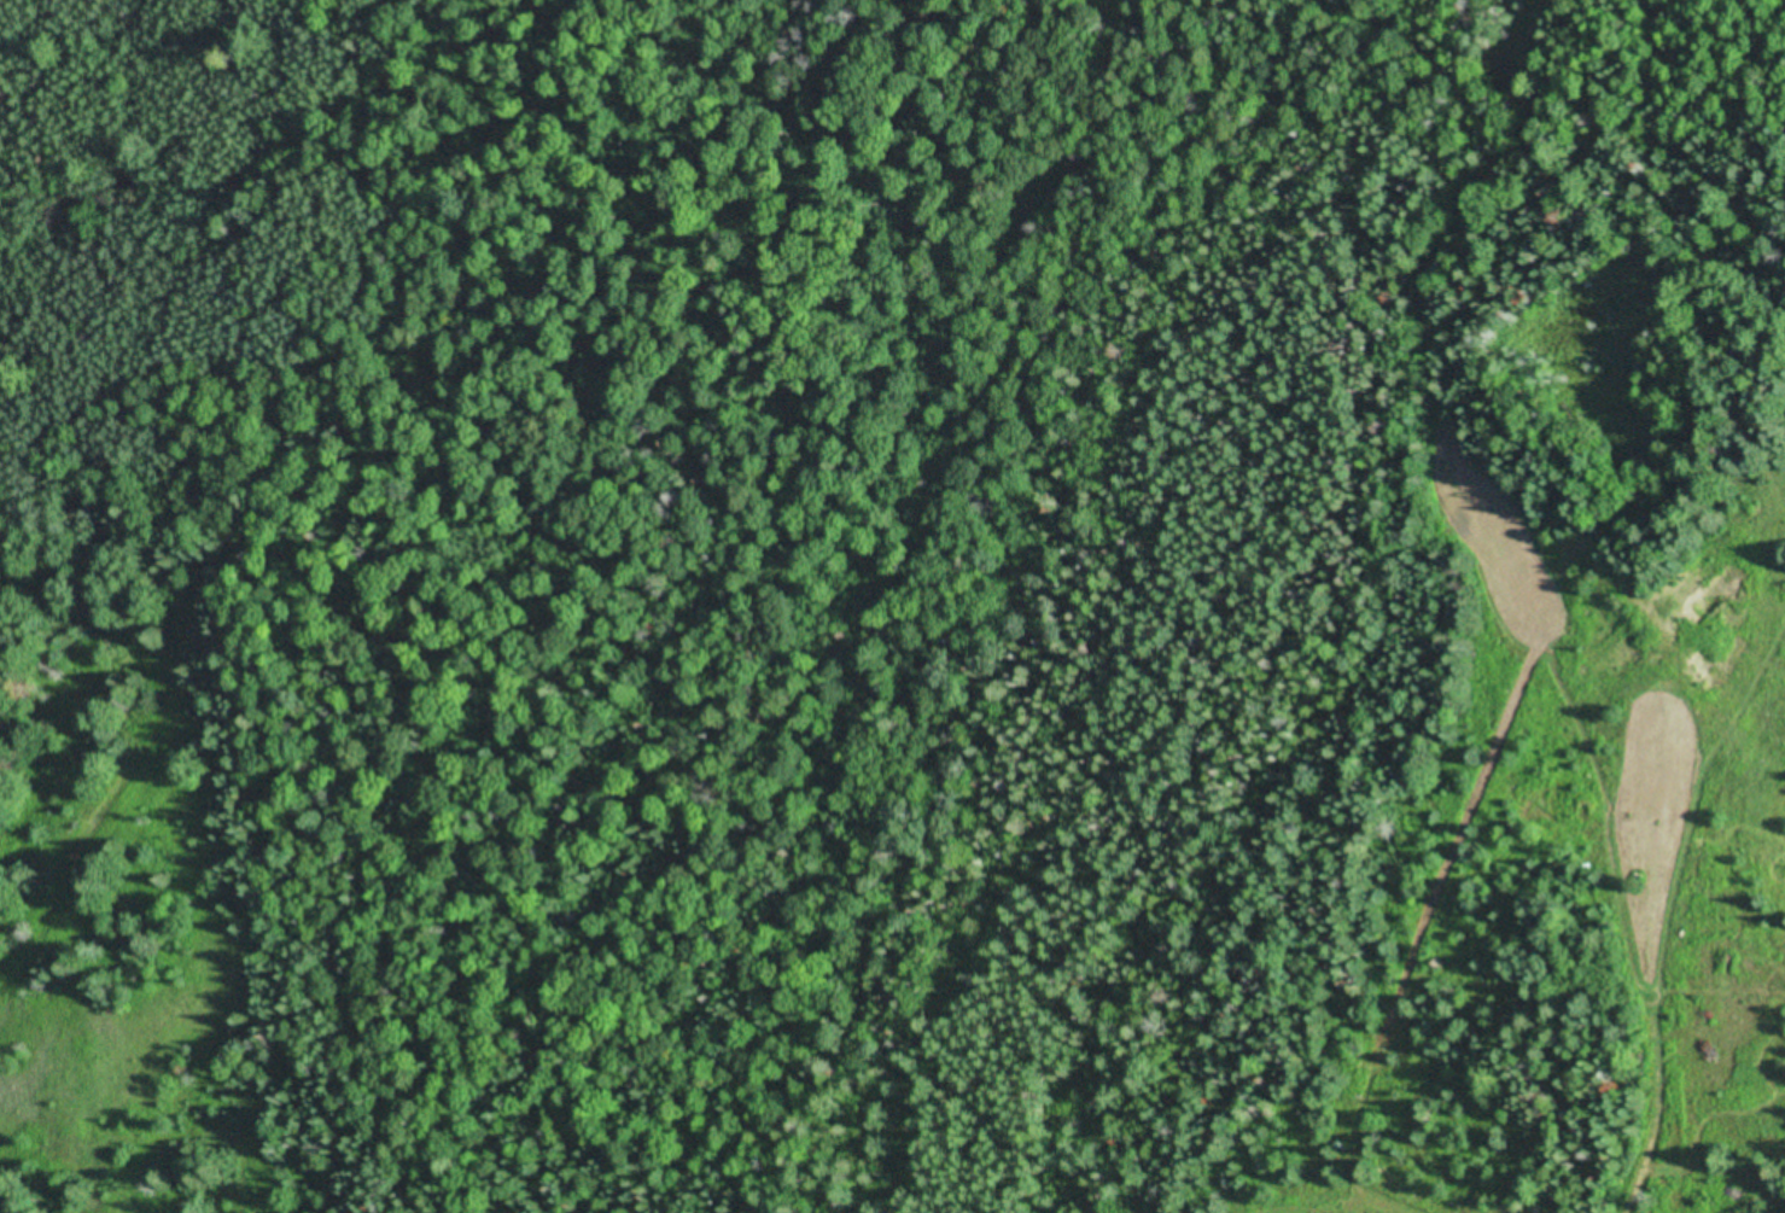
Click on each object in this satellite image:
building: (1621, 880)

